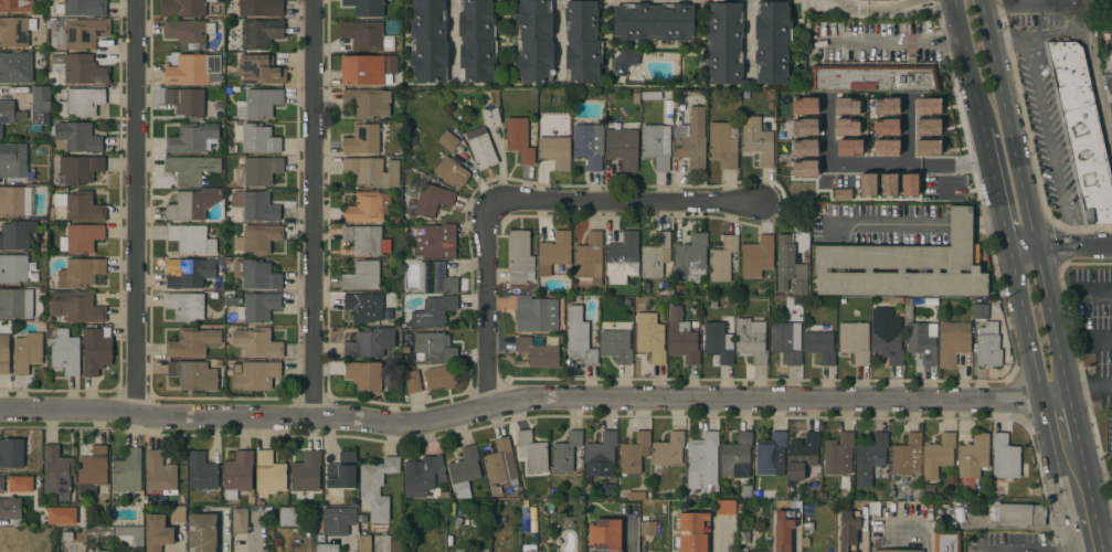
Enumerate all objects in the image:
building: (856, 0)
building: (17, 6)
building: (183, 7)
building: (366, 7)
road: (899, 7)
building: (82, 8)
building: (261, 8)
building: (214, 11)
building: (653, 22)
building: (15, 31)
road: (451, 31)
building: (188, 32)
building: (78, 33)
building: (261, 33)
road: (1084, 34)
building: (366, 35)
road: (555, 39)
building: (428, 40)
building: (477, 40)
building: (534, 40)
road: (1037, 40)
building: (583, 41)
building: (723, 42)
building: (772, 42)
road: (896, 44)
building: (1109, 57)
building: (624, 62)
road: (967, 62)
building: (15, 67)
building: (81, 68)
building: (367, 68)
building: (192, 70)
building: (260, 70)
building: (872, 77)
building: (1108, 85)
building: (227, 92)
building: (650, 95)
building: (770, 96)
building: (82, 102)
building: (186, 102)
building: (368, 102)
building: (40, 103)
building: (260, 104)
building: (770, 106)
building: (804, 106)
building: (846, 106)
building: (886, 106)
building: (926, 106)
building: (1111, 108)
building: (10, 113)
building: (213, 115)
building: (490, 116)
building: (804, 127)
building: (846, 127)
building: (886, 127)
building: (926, 127)
building: (1081, 130)
building: (0, 132)
building: (427, 134)
building: (77, 137)
building: (191, 138)
building: (256, 138)
building: (362, 139)
building: (519, 139)
building: (691, 139)
building: (447, 140)
building: (426, 142)
building: (723, 144)
building: (756, 144)
road: (1050, 144)
building: (589, 145)
building: (656, 145)
building: (848, 147)
building: (232, 148)
building: (480, 148)
building: (622, 148)
building: (885, 148)
building: (926, 148)
building: (431, 149)
building: (555, 151)
building: (423, 153)
building: (793, 153)
building: (437, 155)
building: (13, 161)
road: (872, 164)
building: (804, 167)
building: (191, 169)
building: (78, 170)
building: (261, 170)
building: (372, 171)
building: (451, 172)
building: (867, 184)
building: (888, 184)
building: (909, 184)
road: (995, 185)
building: (841, 194)
building: (432, 200)
building: (15, 201)
road: (623, 201)
road: (1024, 201)
building: (192, 204)
building: (80, 205)
road: (137, 205)
building: (255, 205)
building: (368, 208)
road: (314, 209)
building: (226, 221)
road: (891, 225)
road: (961, 226)
road: (987, 226)
building: (17, 234)
building: (81, 238)
building: (258, 238)
building: (191, 240)
building: (366, 240)
building: (435, 240)
road: (1059, 246)
building: (553, 253)
building: (656, 255)
building: (589, 256)
building: (756, 256)
building: (520, 257)
building: (623, 257)
building: (690, 257)
building: (722, 259)
building: (219, 261)
building: (790, 266)
building: (906, 266)
building: (13, 268)
building: (81, 272)
building: (190, 274)
building: (256, 275)
building: (362, 276)
building: (435, 279)
building: (220, 286)
building: (41, 291)
building: (213, 296)
building: (231, 300)
road: (488, 301)
building: (843, 301)
building: (898, 301)
building: (908, 301)
building: (15, 302)
building: (782, 302)
building: (928, 302)
building: (627, 304)
building: (75, 307)
building: (187, 307)
building: (258, 307)
building: (367, 307)
building: (40, 309)
building: (979, 310)
building: (432, 312)
building: (536, 314)
building: (50, 321)
building: (886, 336)
building: (579, 337)
building: (406, 338)
building: (681, 338)
building: (751, 339)
building: (650, 341)
building: (787, 341)
building: (855, 341)
building: (922, 341)
building: (953, 341)
building: (191, 342)
building: (257, 342)
building: (370, 342)
building: (718, 342)
building: (819, 342)
building: (615, 346)
building: (988, 346)
building: (434, 347)
building: (96, 350)
building: (405, 350)
building: (65, 351)
building: (538, 351)
building: (27, 352)
building: (4, 354)
building: (218, 363)
building: (193, 374)
building: (254, 374)
building: (364, 375)
building: (439, 378)
road: (1038, 381)
building: (413, 385)
road: (1089, 391)
road: (531, 399)
road: (1072, 422)
building: (931, 427)
building: (668, 449)
building: (532, 452)
building: (565, 452)
building: (600, 452)
building: (11, 453)
building: (634, 453)
building: (838, 454)
building: (771, 455)
building: (802, 455)
building: (735, 456)
building: (907, 456)
building: (938, 456)
building: (973, 456)
building: (1006, 458)
building: (705, 459)
building: (870, 459)
building: (500, 463)
building: (93, 469)
building: (464, 470)
building: (127, 471)
building: (201, 471)
building: (57, 473)
building: (159, 474)
building: (236, 474)
building: (268, 474)
building: (306, 474)
building: (341, 474)
building: (422, 475)
building: (1, 484)
building: (20, 484)
building: (377, 486)
building: (1111, 488)
building: (494, 489)
building: (689, 490)
building: (922, 491)
building: (552, 492)
building: (746, 492)
building: (443, 495)
road: (1089, 496)
building: (795, 497)
building: (523, 502)
building: (726, 507)
building: (10, 508)
building: (178, 513)
building: (1017, 513)
building: (61, 516)
building: (289, 516)
building: (240, 520)
building: (337, 520)
road: (1083, 526)
road: (1104, 526)
building: (807, 527)
building: (647, 528)
building: (783, 530)
building: (848, 530)
building: (99, 531)
road: (220, 531)
building: (157, 532)
building: (202, 532)
building: (693, 532)
road: (1071, 532)
building: (605, 534)
building: (67, 537)
road: (629, 537)
road: (925, 537)
building: (128, 538)
building: (744, 538)
road: (795, 541)
building: (946, 541)
building: (275, 543)
building: (363, 543)
building: (394, 543)
road: (711, 543)
building: (806, 543)
building: (409, 545)
building: (327, 548)
road: (351, 548)
building: (470, 550)
building: (95, 551)
building: (530, 551)
building: (761, 551)
building: (897, 551)
road: (1060, 551)

